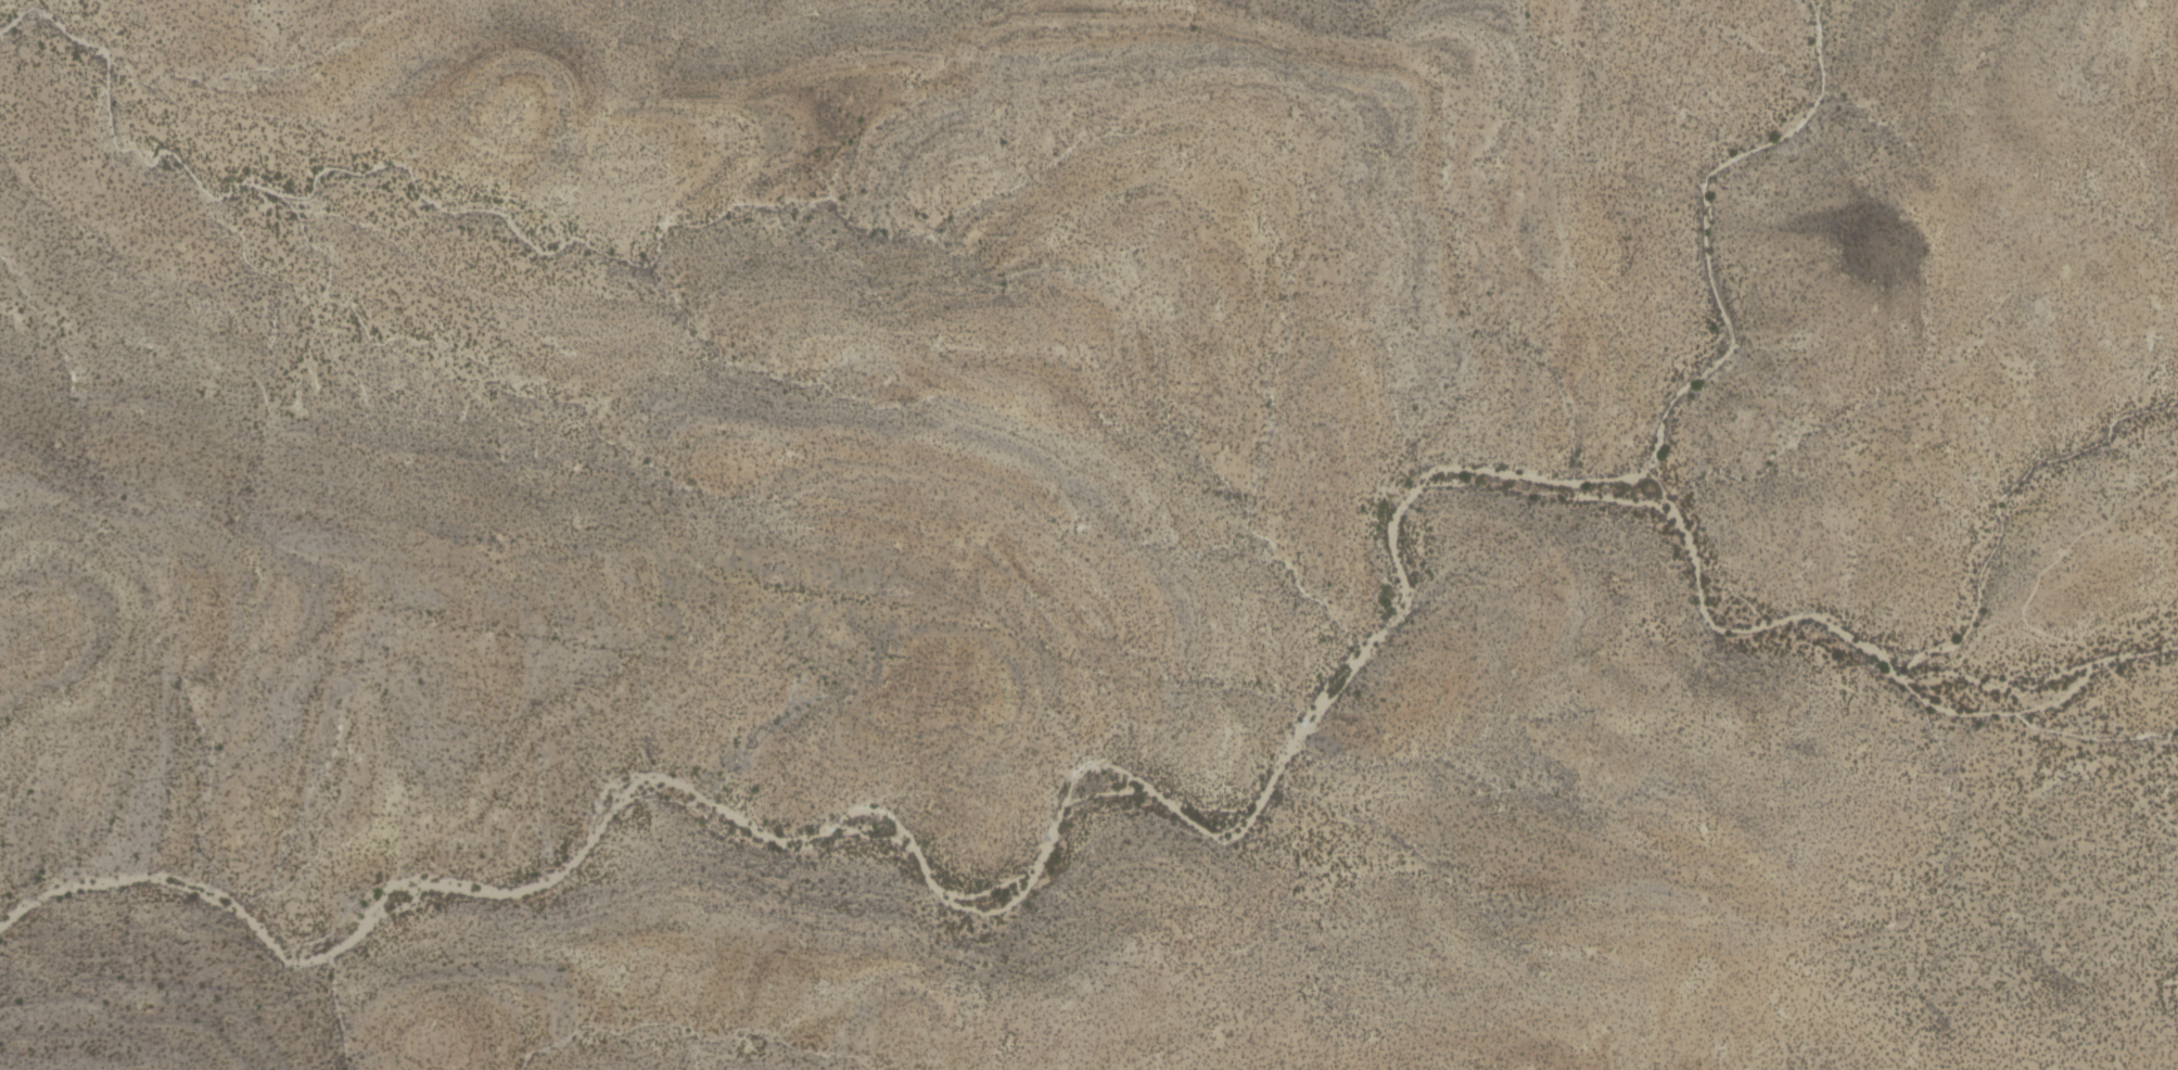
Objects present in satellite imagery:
road: (2031, 608)

